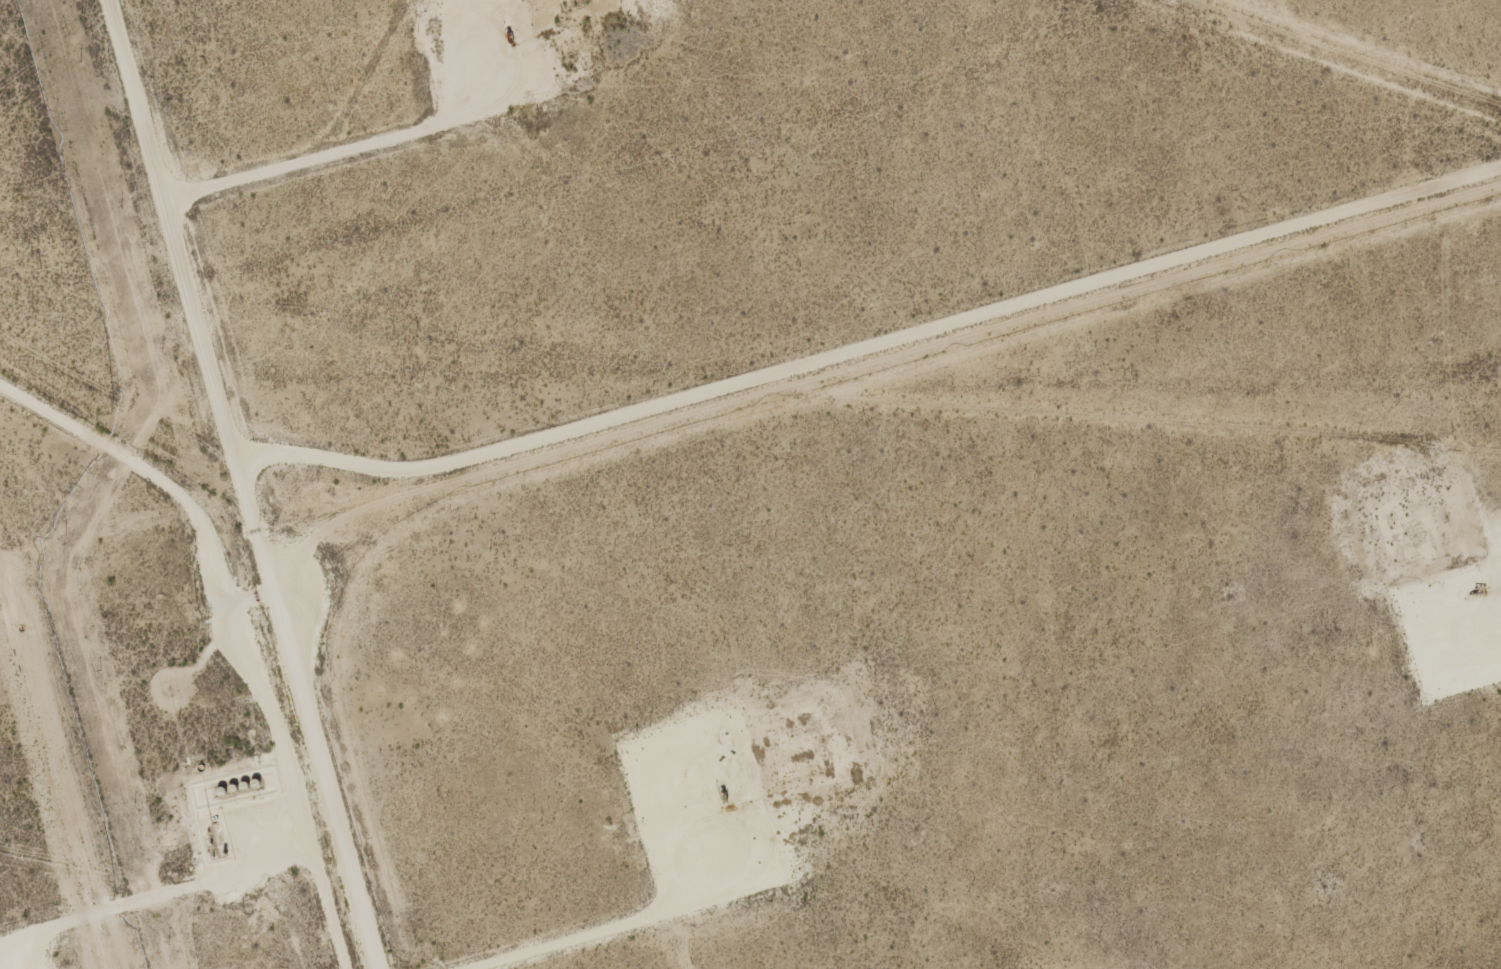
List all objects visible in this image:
road: (267, 582)
petroleum well: (1484, 596)
petroleum well: (725, 791)

